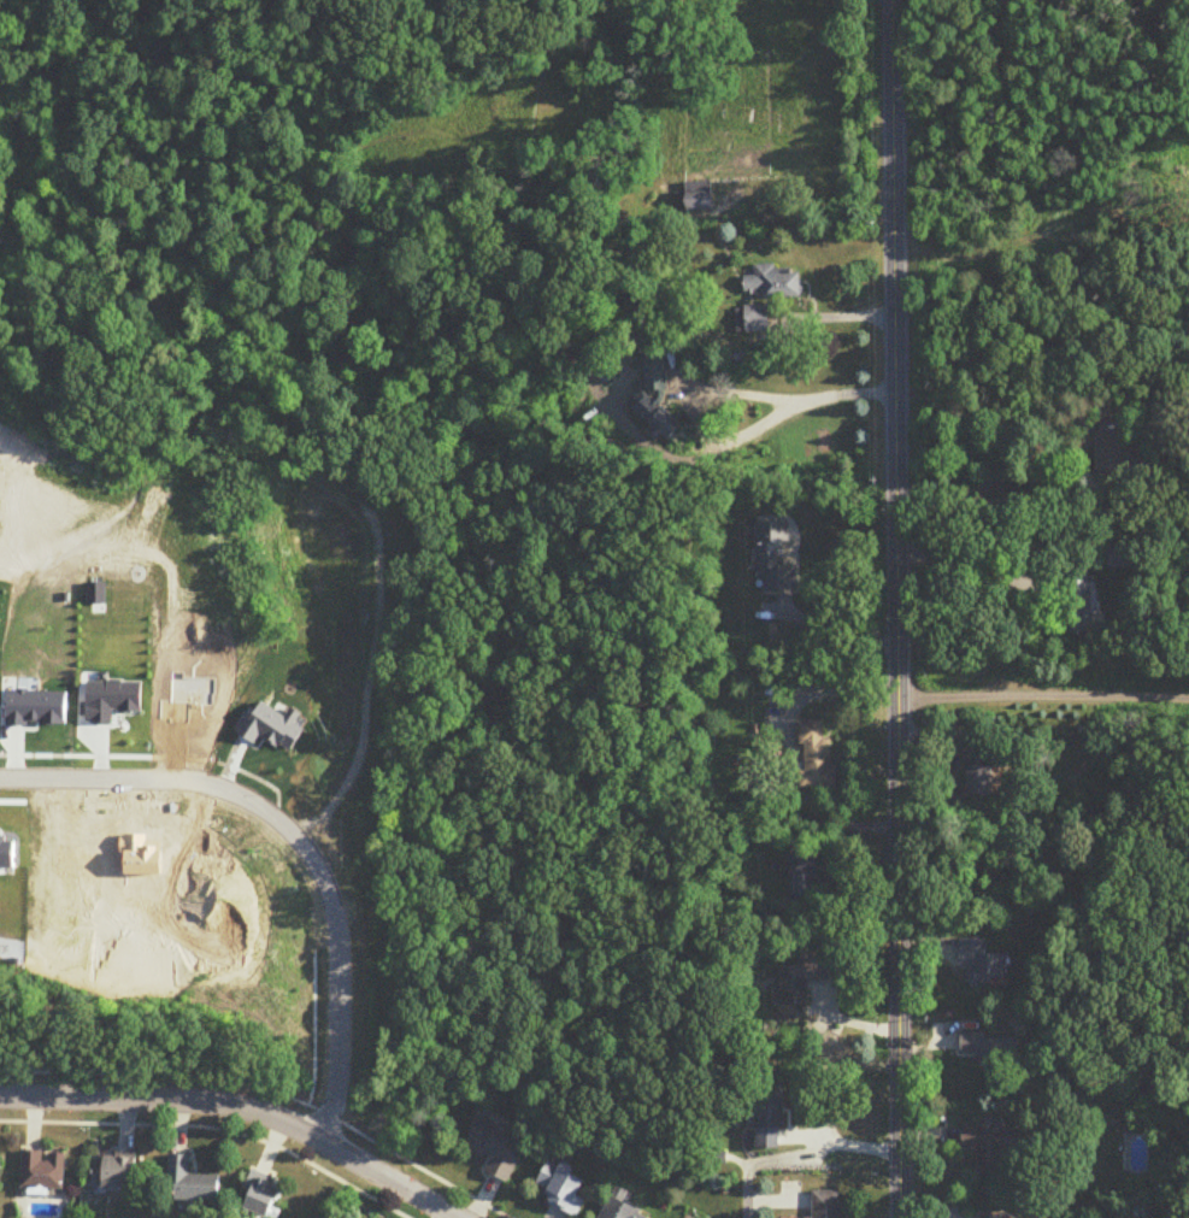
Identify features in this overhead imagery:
building: (700, 201)
building: (775, 283)
building: (754, 320)
road: (793, 394)
building: (658, 417)
building: (1112, 452)
road: (1023, 501)
building: (1128, 555)
building: (775, 559)
building: (1079, 604)
road: (897, 608)
road: (1042, 694)
road: (788, 747)
building: (818, 757)
building: (982, 775)
road: (290, 840)
building: (806, 881)
building: (984, 965)
building: (806, 979)
building: (995, 1051)
road: (242, 1107)
building: (770, 1118)
road: (212, 1130)
building: (994, 1148)
building: (498, 1149)
road: (804, 1160)
building: (1, 1170)
building: (45, 1170)
building: (116, 1171)
building: (193, 1182)
road: (454, 1188)
building: (563, 1189)
building: (264, 1194)
building: (828, 1205)
building: (620, 1211)

